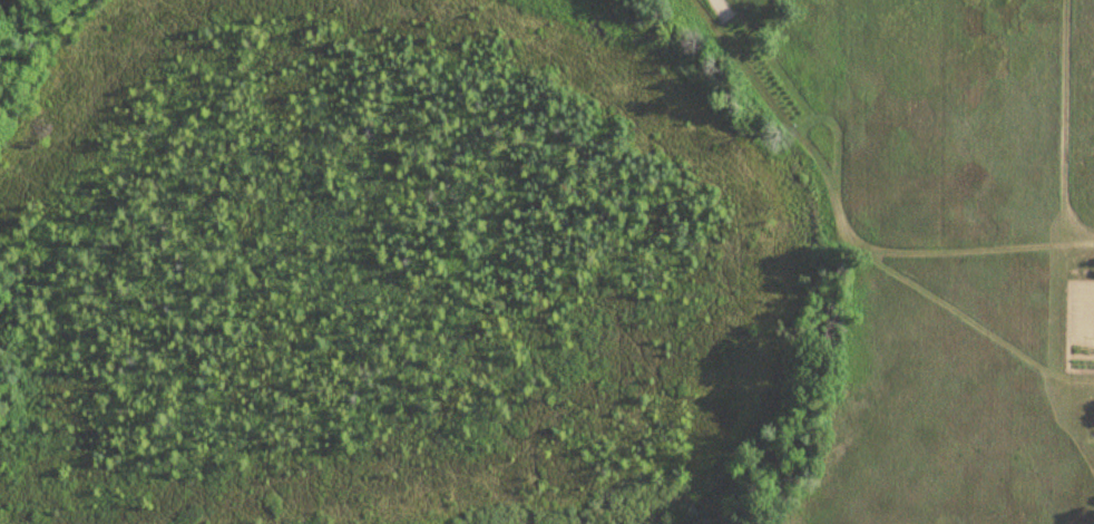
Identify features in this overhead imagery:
crop: (926, 110)
crop: (1081, 115)
crop: (955, 384)

